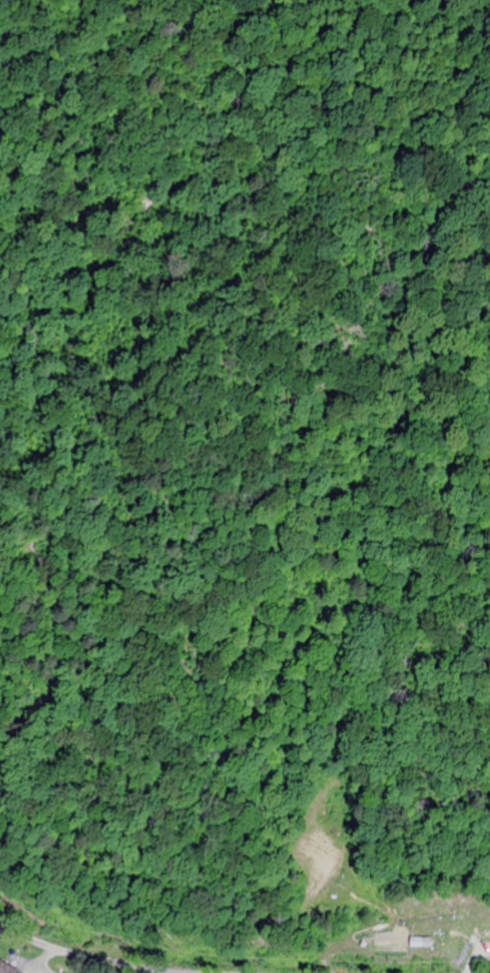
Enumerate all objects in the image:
building: (417, 944)
road: (86, 956)

